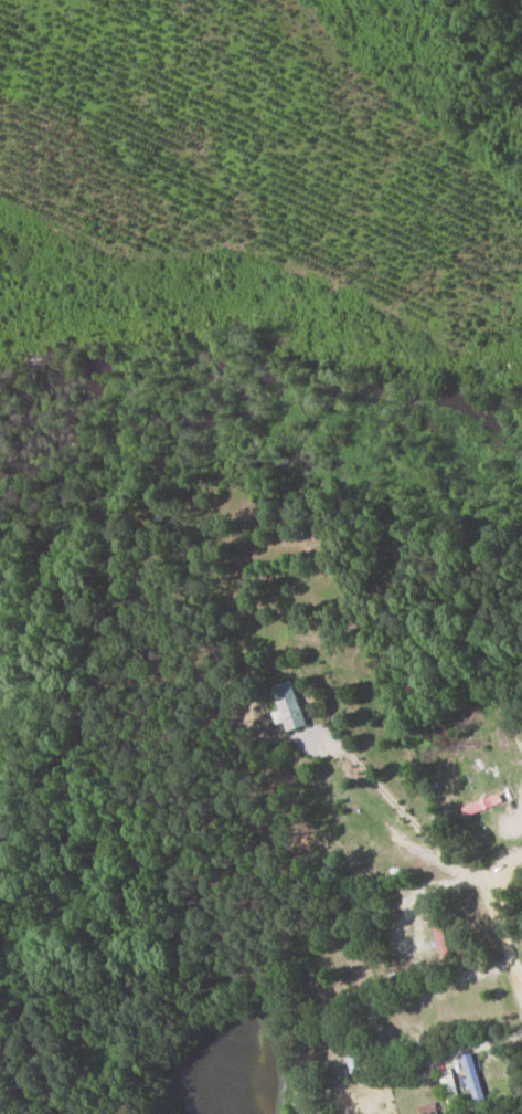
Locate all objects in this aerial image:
building: (291, 706)
road: (409, 817)
road: (496, 925)
building: (451, 1086)

